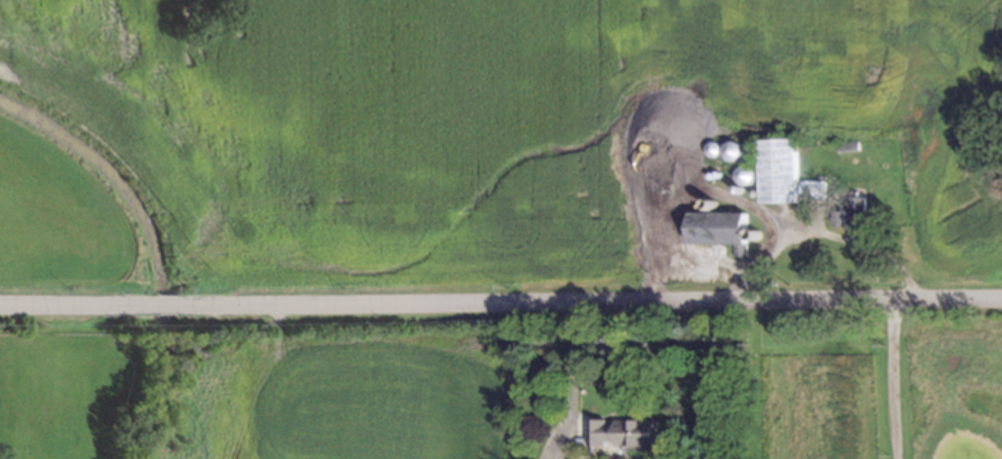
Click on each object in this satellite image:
building: (711, 146)
building: (845, 146)
building: (731, 148)
building: (779, 171)
building: (715, 172)
building: (744, 172)
building: (709, 173)
building: (738, 186)
building: (754, 189)
building: (814, 191)
building: (710, 200)
building: (851, 211)
building: (718, 228)
road: (826, 232)
road: (70, 302)
road: (166, 303)
road: (596, 303)
road: (575, 365)
road: (896, 381)
building: (623, 431)

